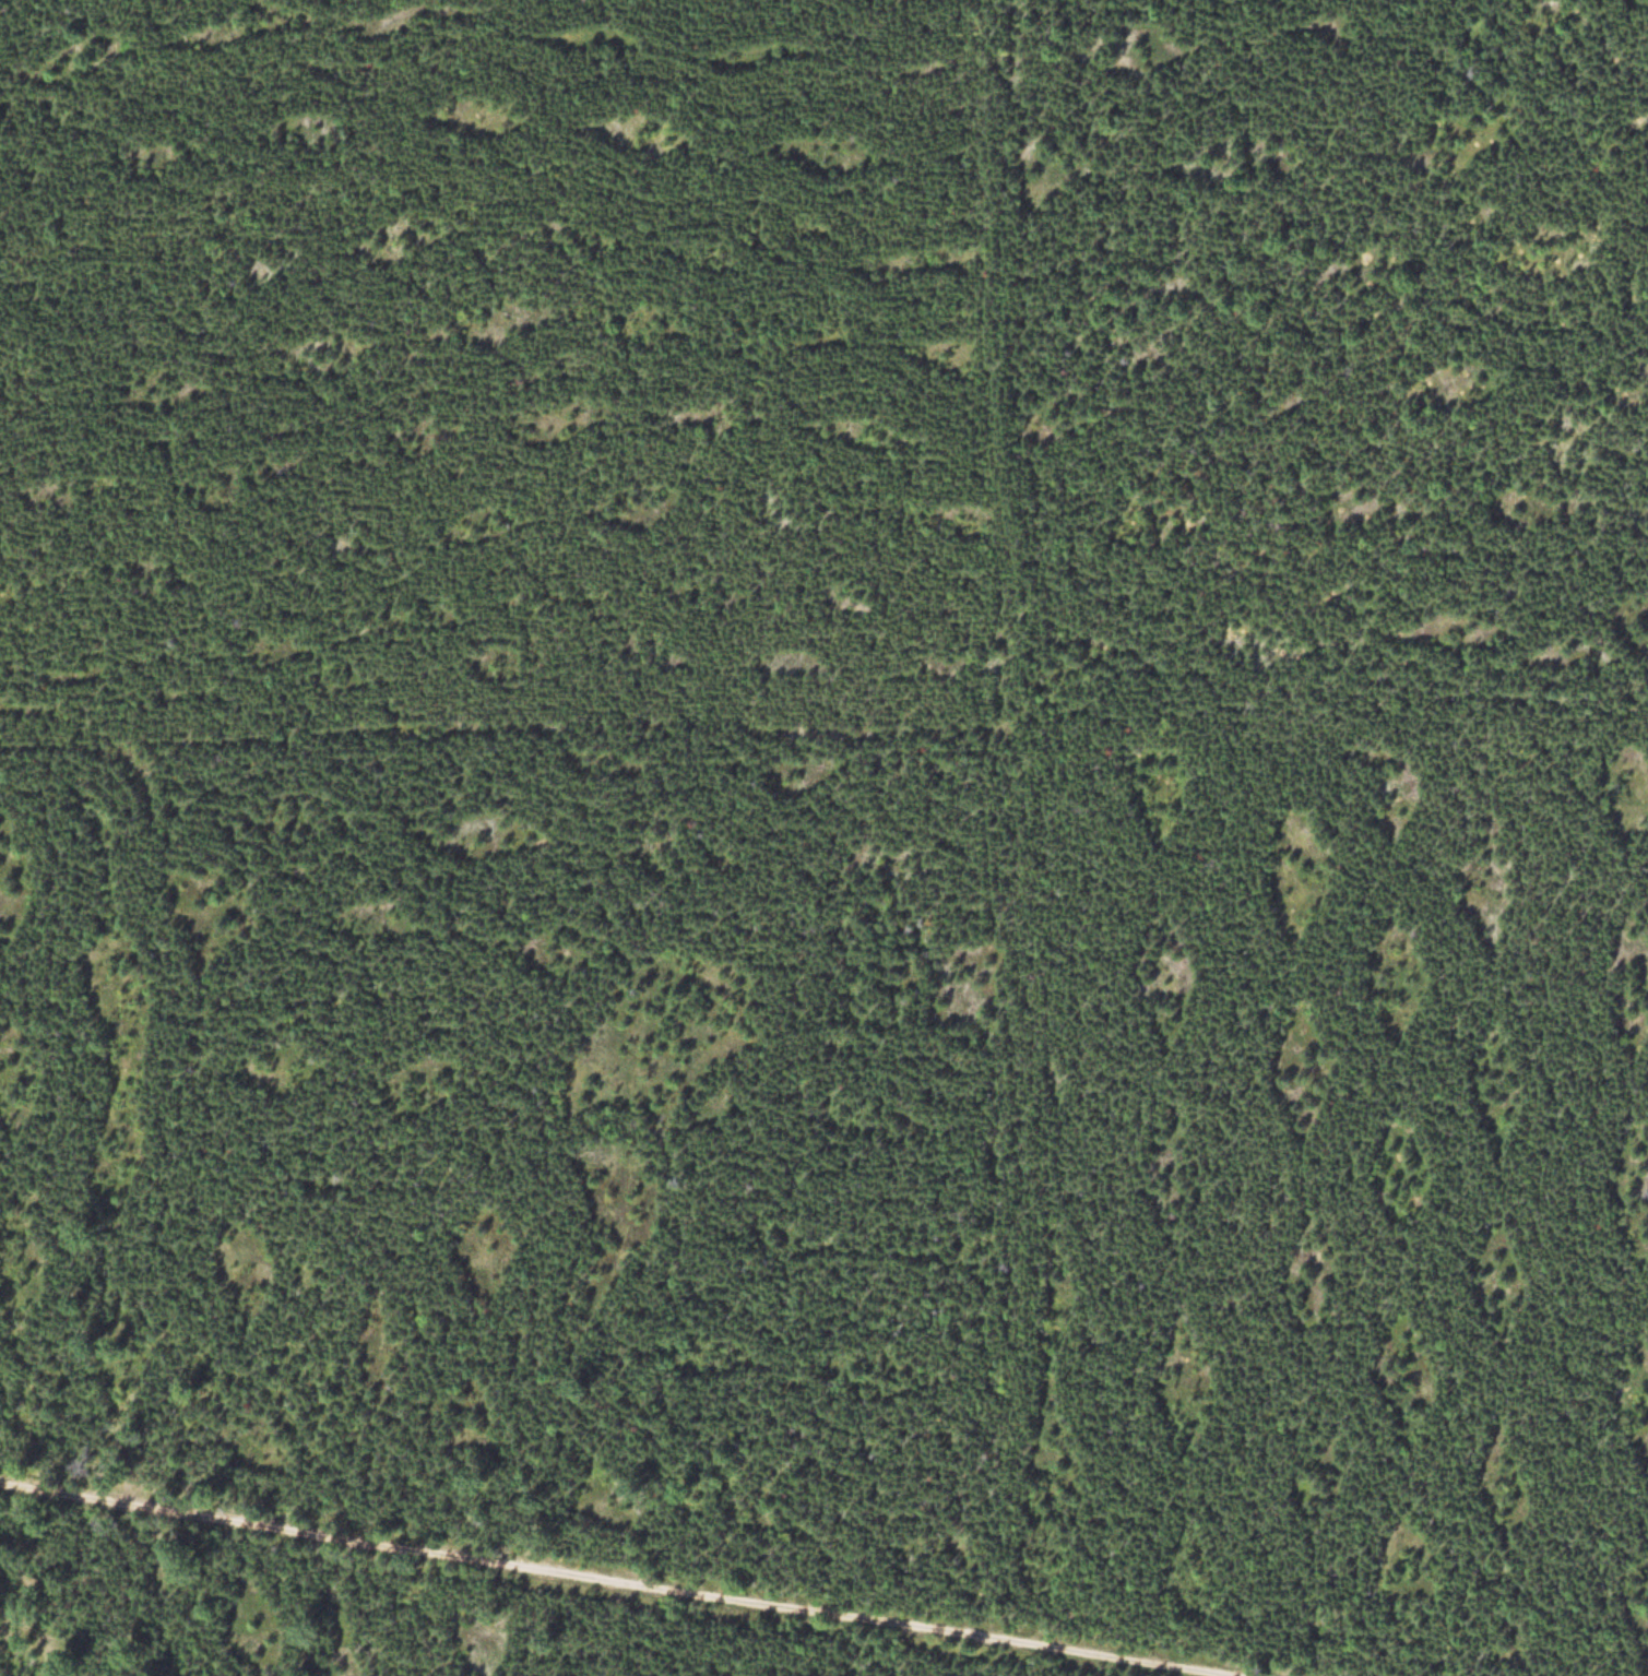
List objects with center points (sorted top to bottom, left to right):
road: (649, 1577)

